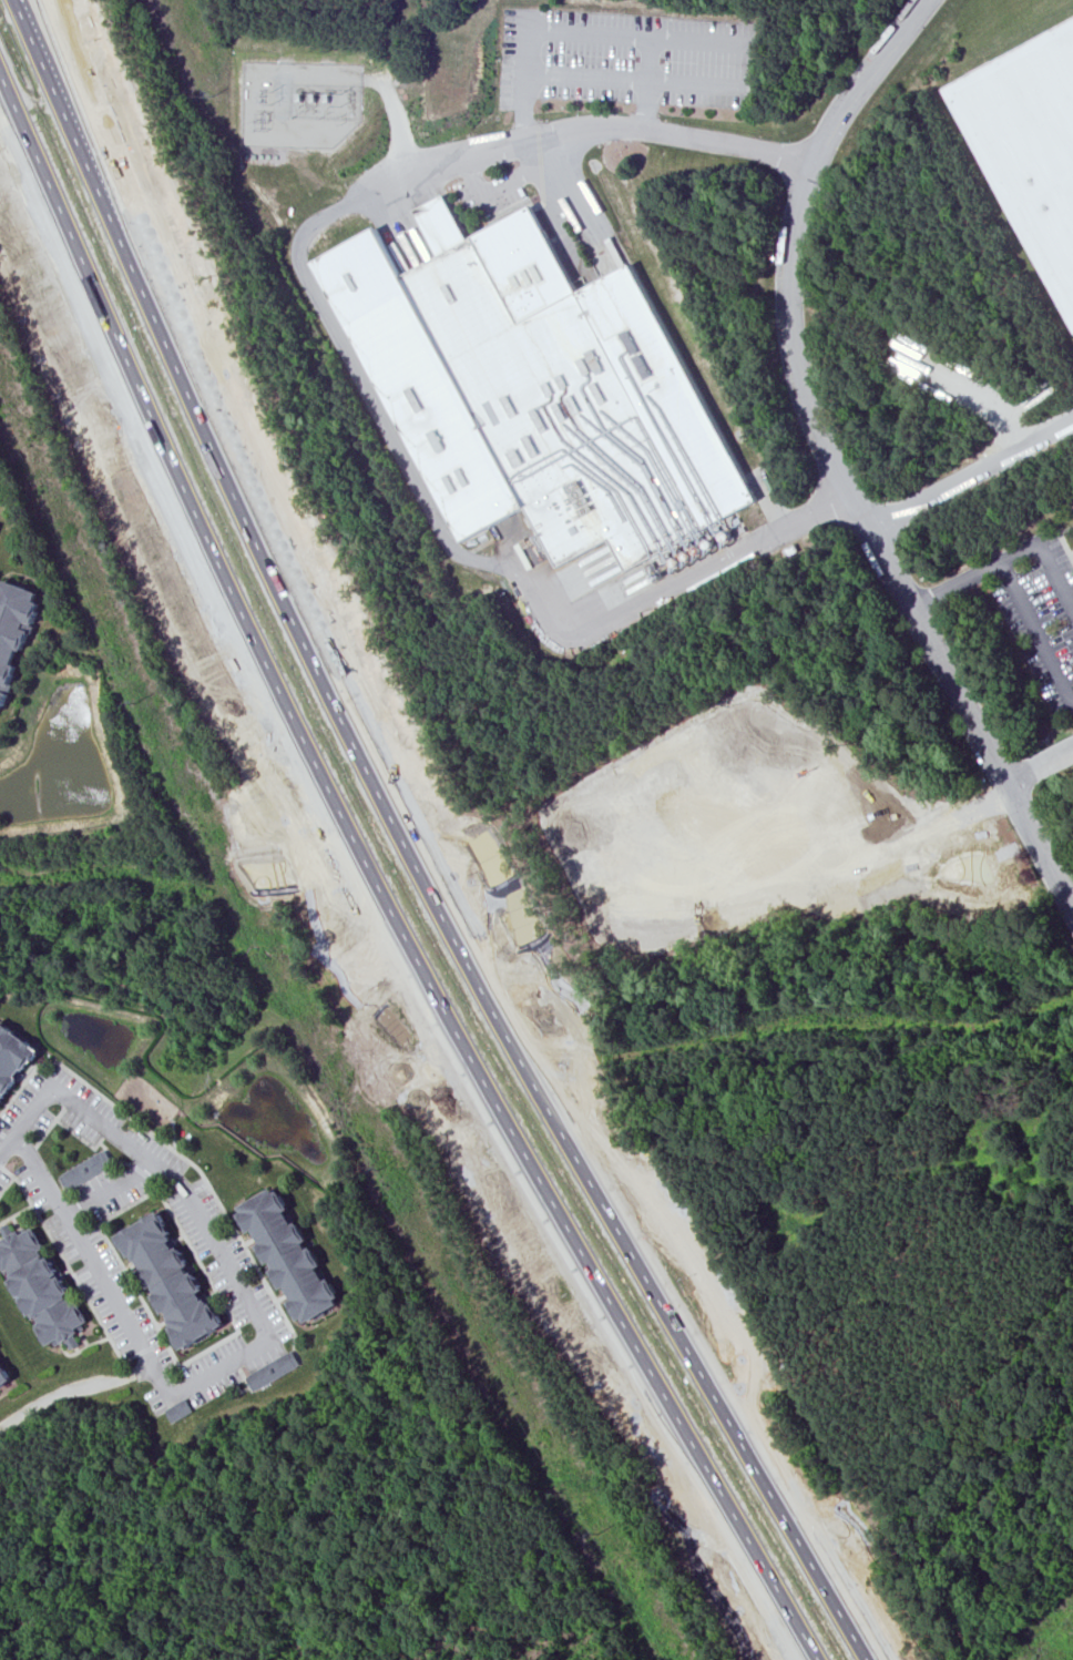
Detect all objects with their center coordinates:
road: (583, 31)
road: (636, 79)
road: (644, 82)
power tower: (212, 98)
power substation: (299, 104)
power tower: (259, 120)
building: (1031, 143)
road: (350, 367)
building: (540, 388)
road: (192, 395)
road: (159, 442)
road: (829, 459)
road: (973, 476)
road: (1045, 559)
road: (953, 584)
parking lot: (1038, 609)
building: (16, 630)
road: (1032, 635)
power tower: (135, 702)
road: (1039, 763)
building: (766, 808)
road: (948, 815)
building: (12, 1058)
road: (69, 1104)
power tower: (379, 1169)
building: (85, 1170)
road: (617, 1225)
road: (566, 1233)
building: (294, 1254)
building: (167, 1281)
building: (37, 1286)
road: (224, 1363)
building: (278, 1369)
building: (2, 1377)
building: (180, 1411)
power tower: (597, 1534)

